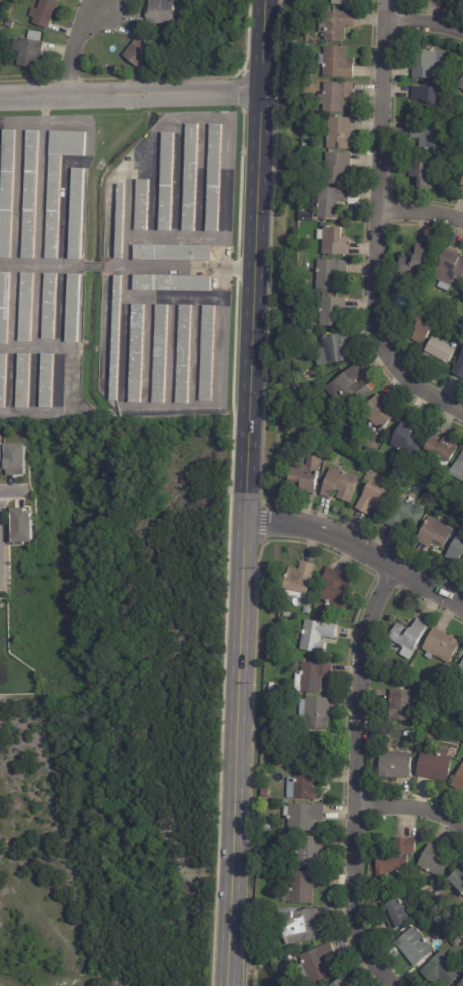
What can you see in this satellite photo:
building: (16, 0)
building: (460, 0)
building: (341, 2)
building: (310, 3)
building: (46, 12)
building: (162, 12)
road: (425, 18)
building: (9, 25)
building: (334, 25)
building: (165, 34)
building: (169, 36)
road: (73, 46)
building: (31, 49)
building: (141, 52)
building: (334, 63)
building: (424, 64)
building: (460, 84)
road: (130, 93)
building: (333, 96)
building: (428, 98)
building: (444, 121)
building: (337, 134)
building: (427, 135)
building: (304, 146)
building: (333, 168)
building: (422, 176)
building: (190, 178)
building: (215, 178)
building: (61, 179)
building: (167, 182)
building: (461, 187)
building: (8, 194)
building: (31, 195)
building: (333, 201)
building: (143, 205)
road: (422, 212)
building: (79, 214)
building: (303, 216)
building: (121, 221)
road: (377, 227)
building: (333, 242)
building: (173, 254)
building: (414, 262)
road: (63, 264)
building: (447, 271)
building: (328, 274)
building: (172, 284)
building: (462, 301)
building: (4, 307)
building: (50, 307)
building: (27, 308)
building: (75, 309)
building: (329, 312)
building: (420, 322)
building: (117, 339)
building: (331, 350)
building: (439, 351)
building: (137, 354)
building: (207, 354)
building: (161, 355)
building: (184, 355)
building: (459, 369)
building: (3, 381)
building: (24, 381)
building: (48, 381)
building: (349, 387)
building: (296, 388)
building: (377, 413)
building: (312, 433)
building: (406, 440)
building: (438, 450)
building: (0, 451)
building: (14, 459)
building: (0, 467)
building: (457, 471)
building: (303, 476)
building: (337, 486)
building: (410, 489)
road: (13, 490)
road: (247, 492)
building: (372, 500)
building: (402, 515)
building: (22, 525)
building: (432, 535)
road: (358, 549)
building: (455, 549)
building: (461, 563)
building: (297, 580)
building: (335, 589)
building: (305, 610)
building: (285, 614)
building: (314, 634)
building: (407, 637)
building: (439, 646)
building: (459, 671)
building: (310, 676)
building: (269, 686)
building: (402, 705)
building: (312, 713)
building: (431, 724)
building: (454, 726)
building: (405, 733)
building: (430, 735)
building: (309, 747)
building: (394, 765)
building: (434, 765)
road: (352, 780)
building: (458, 781)
building: (305, 783)
building: (262, 791)
road: (408, 805)
building: (301, 816)
building: (263, 828)
building: (306, 852)
building: (394, 857)
building: (433, 861)
building: (456, 880)
building: (301, 886)
building: (396, 914)
building: (461, 915)
building: (296, 925)
building: (449, 934)
building: (413, 946)
building: (313, 963)
building: (441, 968)
building: (280, 969)
building: (340, 982)
building: (461, 984)

